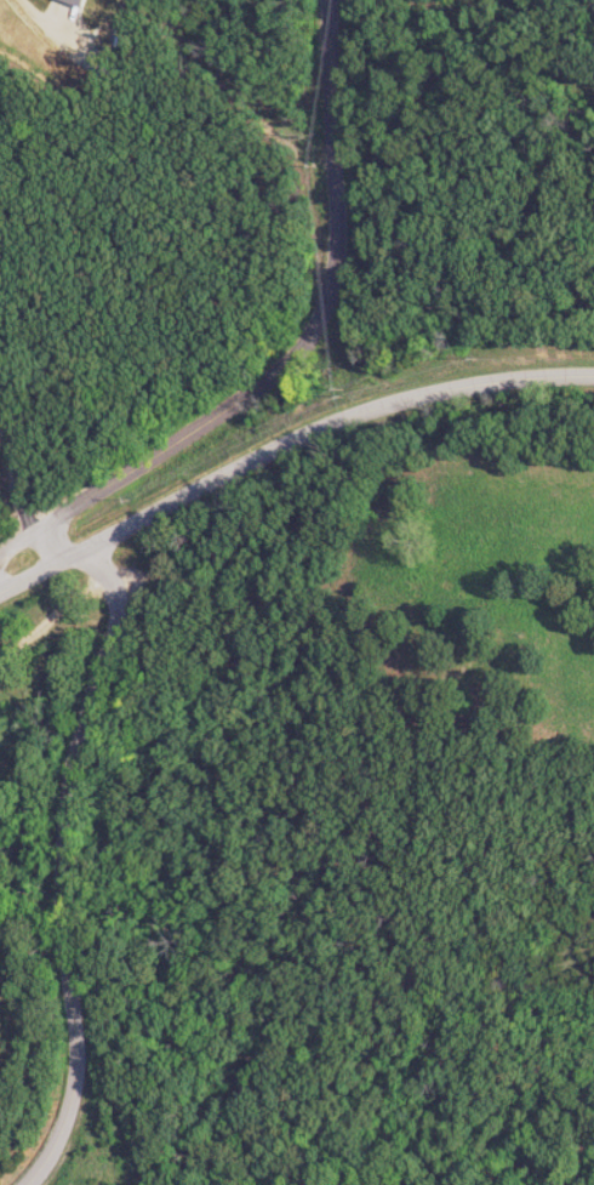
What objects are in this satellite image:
building: (84, 2)
road: (338, 143)
road: (204, 416)
road: (282, 439)
road: (12, 489)
road: (21, 532)
road: (55, 536)
road: (65, 866)

